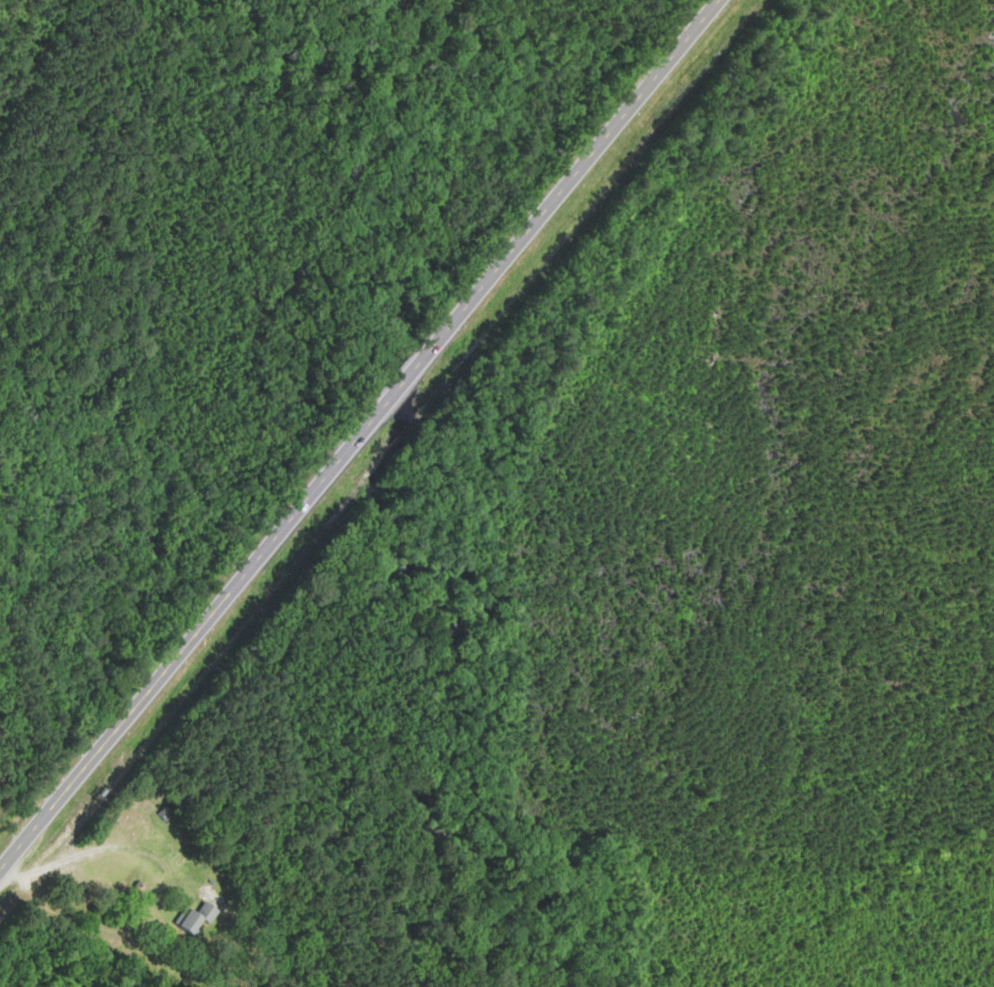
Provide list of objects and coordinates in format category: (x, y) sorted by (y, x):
road: (568, 181)
road: (401, 383)
road: (192, 637)
building: (199, 918)

